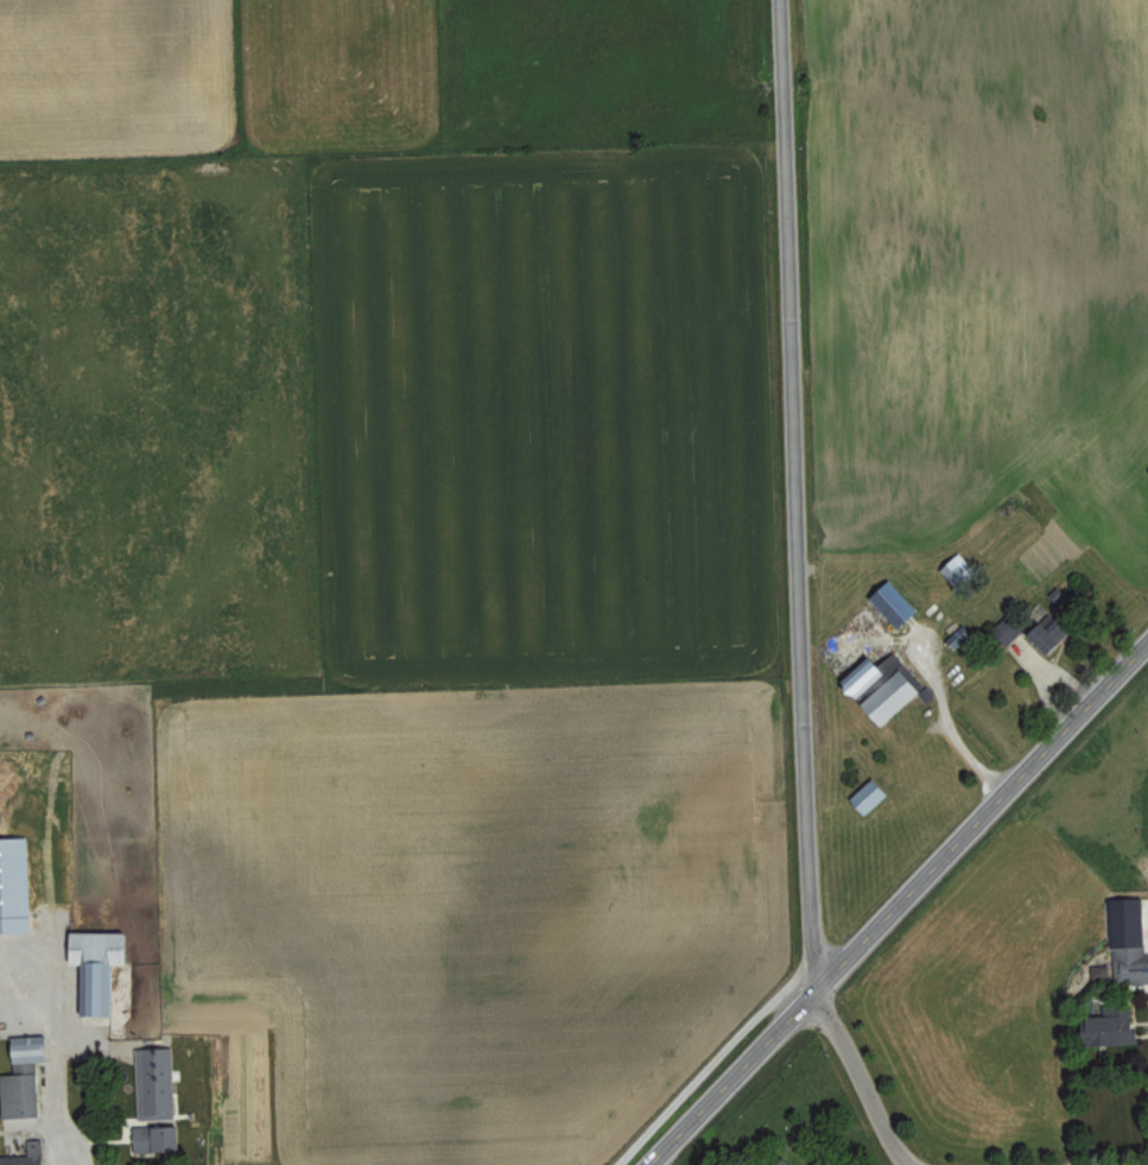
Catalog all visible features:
road: (801, 499)
building: (963, 571)
building: (899, 604)
building: (1010, 627)
building: (1054, 631)
building: (962, 634)
building: (873, 675)
building: (898, 695)
building: (873, 794)
building: (17, 885)
road: (901, 910)
building: (1130, 938)
building: (103, 965)
building: (1102, 969)
building: (1121, 1025)
building: (27, 1076)
road: (868, 1082)
building: (159, 1083)
building: (161, 1138)
building: (27, 1154)
building: (791, 1161)

